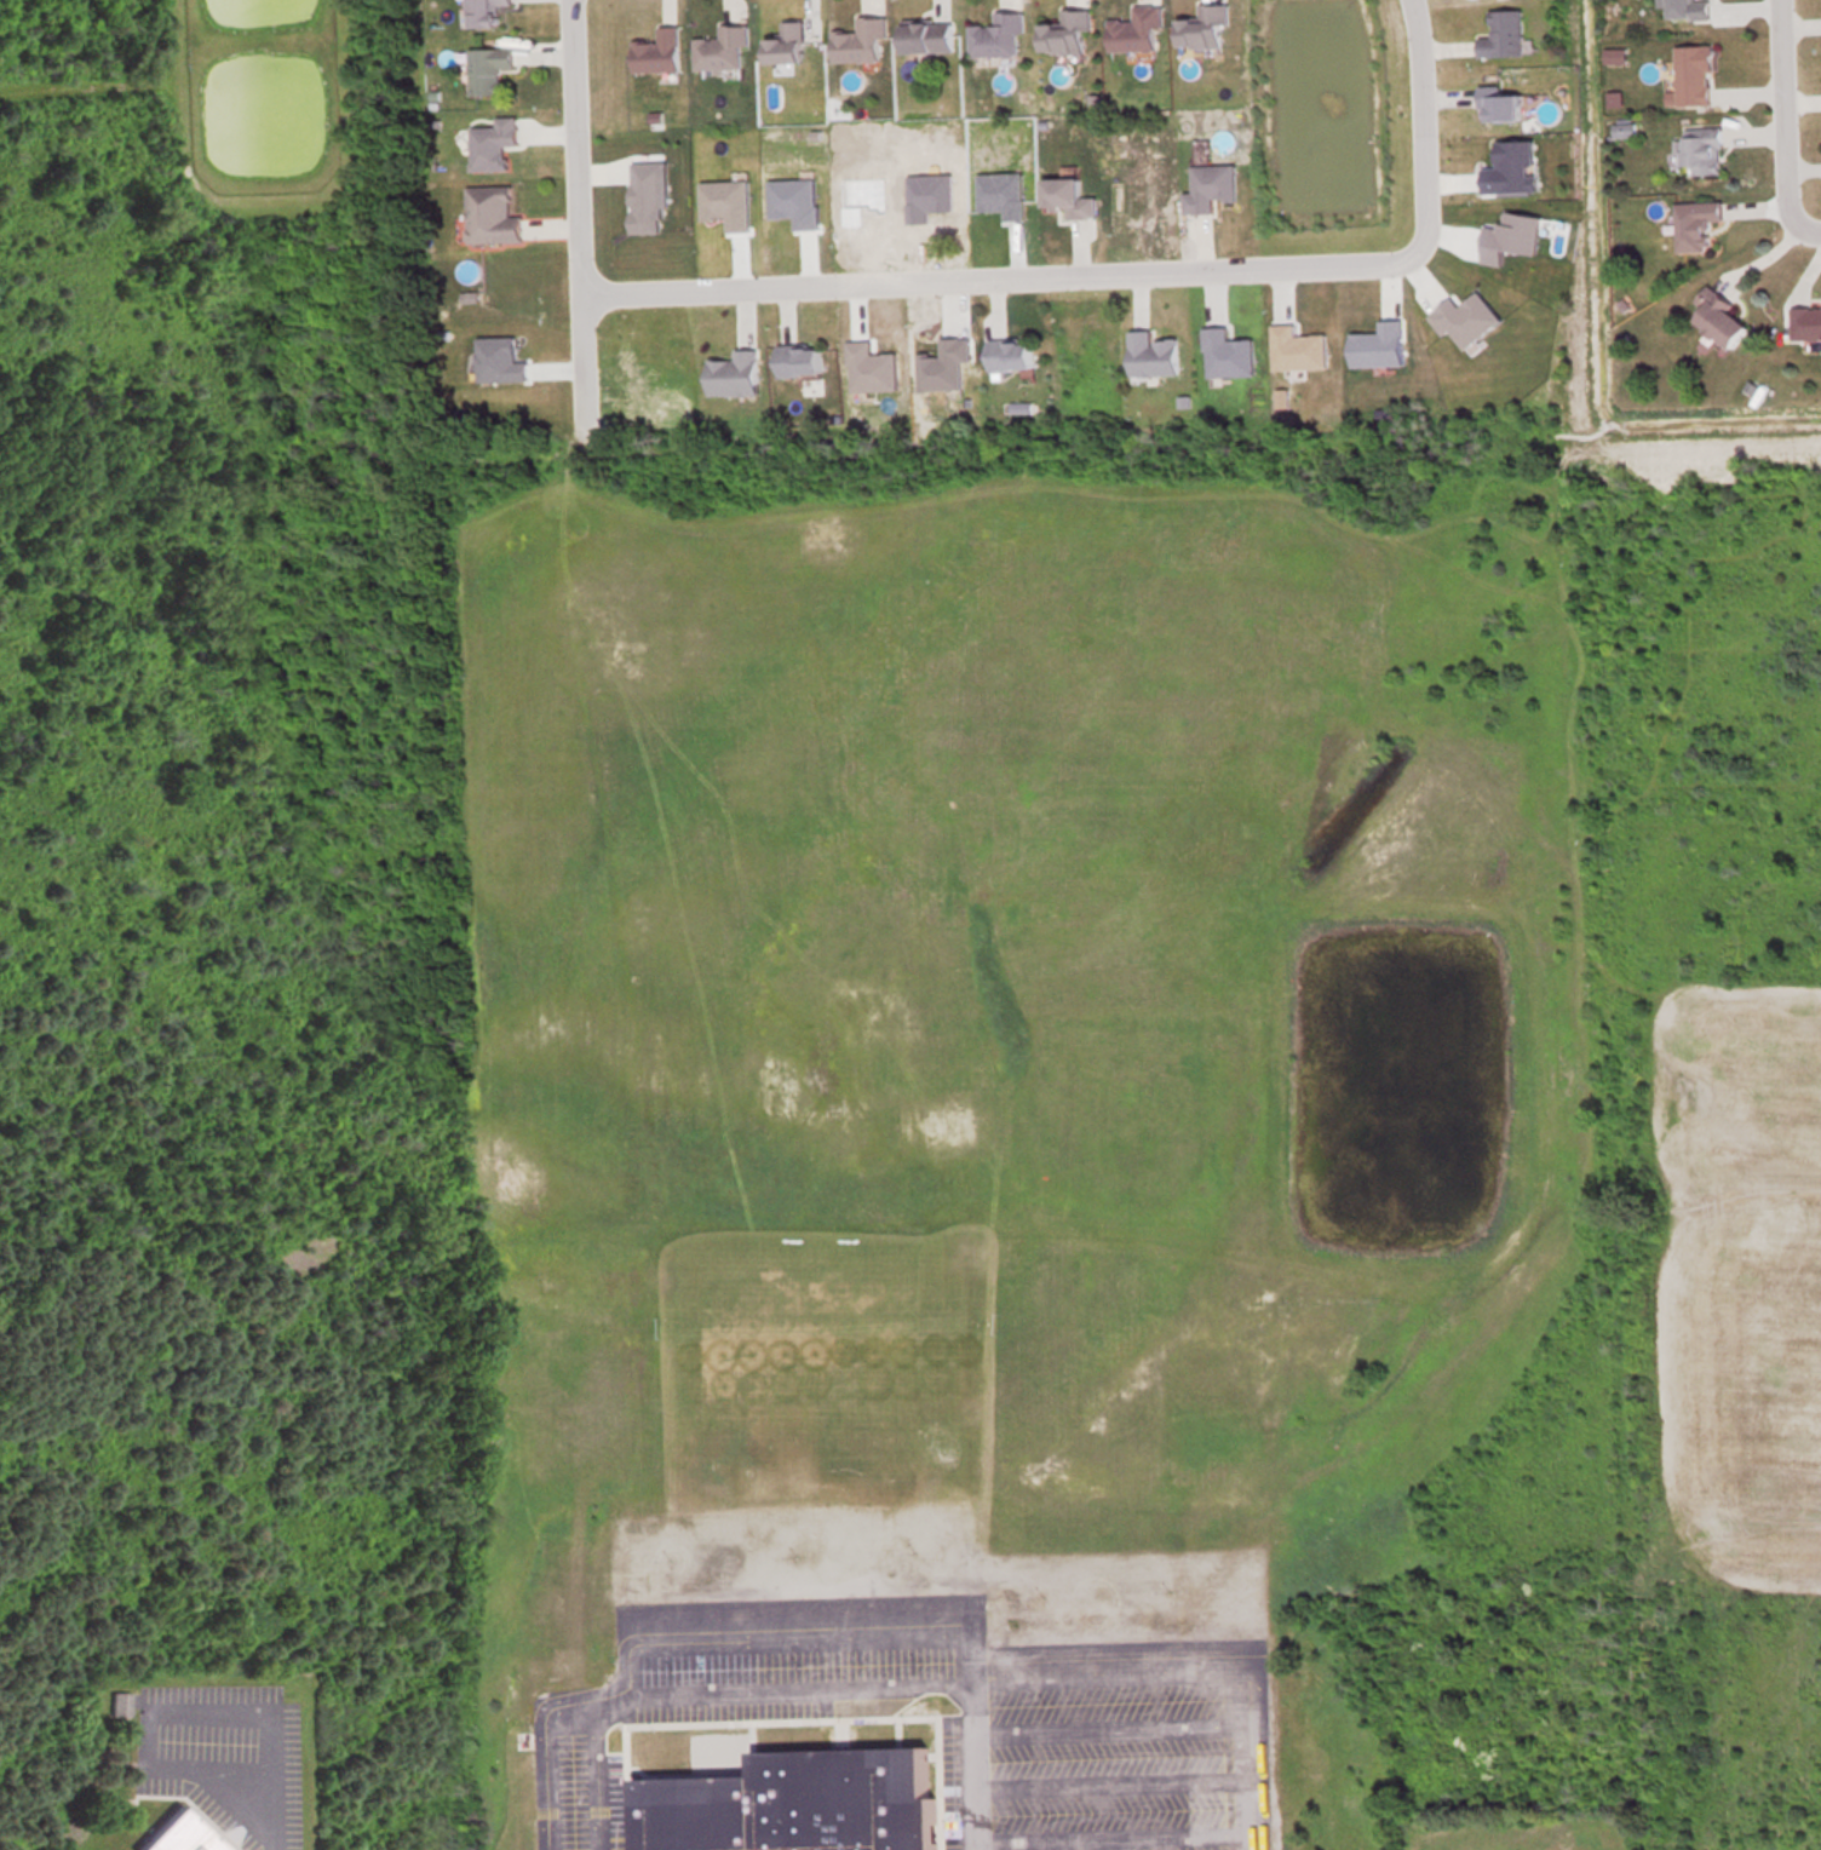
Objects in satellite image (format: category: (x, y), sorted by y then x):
building: (1685, 8)
building: (481, 12)
building: (1200, 25)
building: (1132, 28)
building: (1062, 31)
building: (1501, 33)
building: (994, 35)
building: (923, 36)
building: (857, 40)
building: (783, 44)
building: (719, 47)
building: (655, 51)
building: (486, 68)
building: (1691, 74)
building: (1495, 103)
road: (1792, 113)
road: (1421, 128)
building: (1699, 149)
building: (1207, 186)
building: (1064, 197)
building: (489, 216)
road: (578, 223)
building: (1694, 223)
road: (1810, 225)
road: (1003, 277)
building: (1717, 317)
building: (1805, 321)
building: (1009, 355)
building: (1151, 355)
building: (797, 361)
building: (731, 374)
road: (800, 1625)
road: (1196, 1673)
road: (798, 1695)
building: (115, 1701)
road: (148, 1713)
road: (1109, 1729)
road: (547, 1736)
road: (596, 1768)
road: (969, 1769)
road: (1110, 1782)
building: (795, 1803)
road: (277, 1810)
building: (172, 1833)
road: (1111, 1834)

